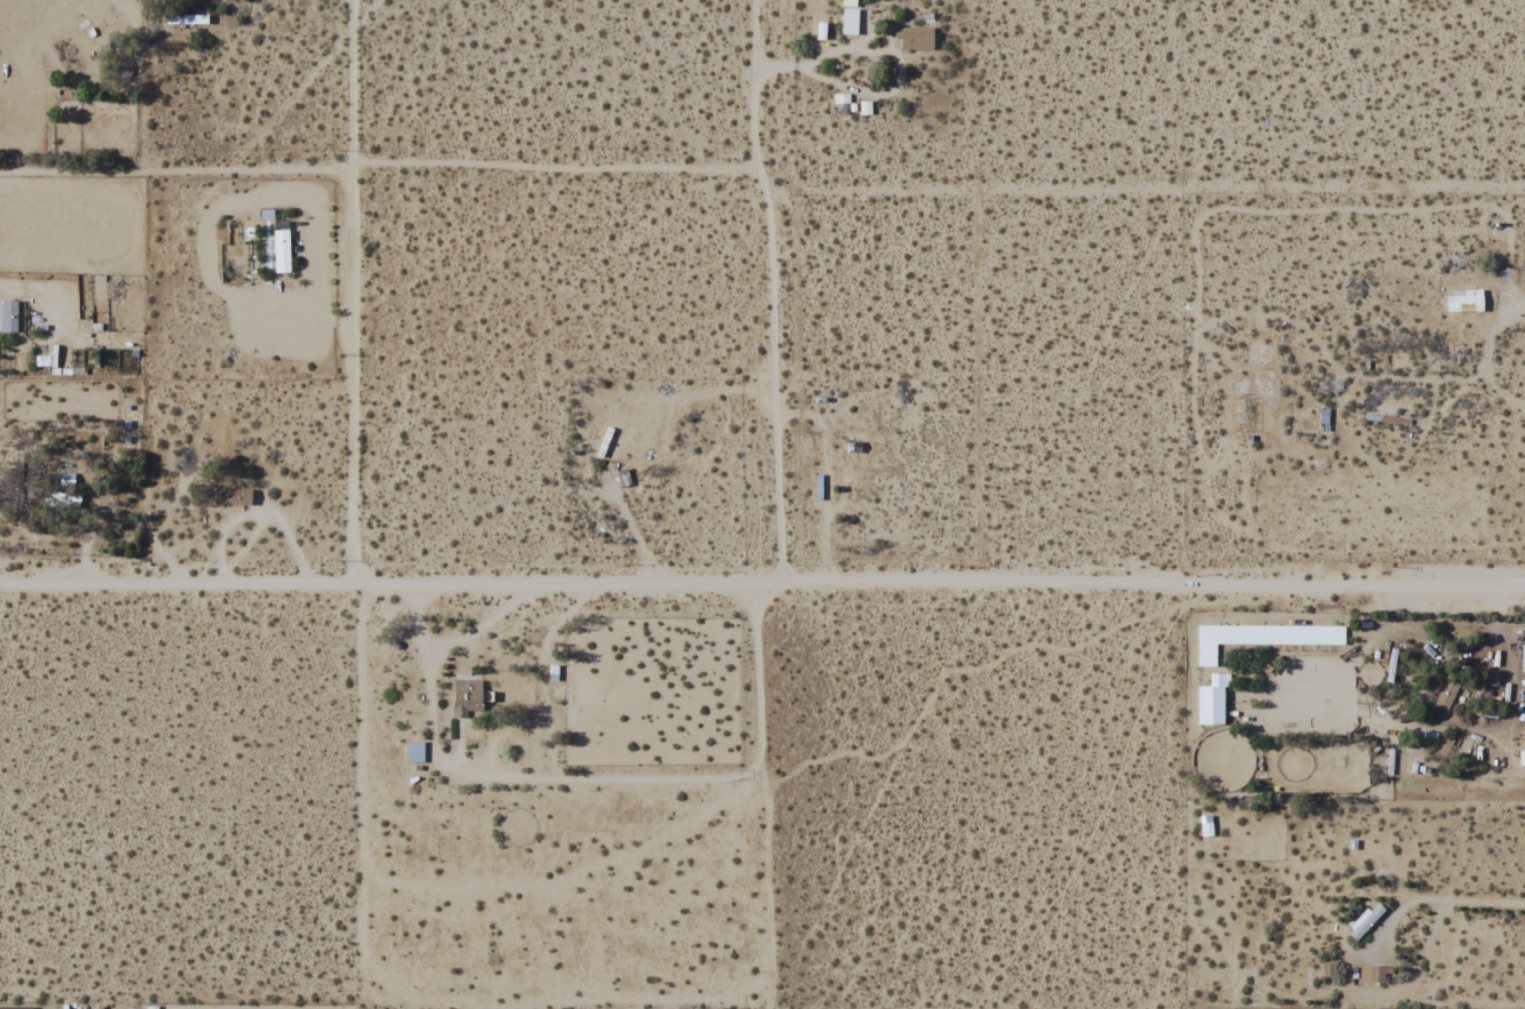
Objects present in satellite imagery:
building: (853, 21)
building: (913, 38)
road: (763, 179)
building: (280, 246)
road: (775, 290)
road: (353, 294)
building: (1464, 300)
building: (8, 316)
building: (44, 361)
building: (1322, 419)
building: (605, 443)
building: (232, 496)
building: (61, 501)
road: (762, 583)
building: (1262, 637)
building: (1391, 665)
building: (1446, 696)
building: (467, 698)
building: (1212, 701)
building: (415, 752)
building: (1206, 826)
building: (1364, 922)
building: (1375, 974)
building: (15, 1008)

